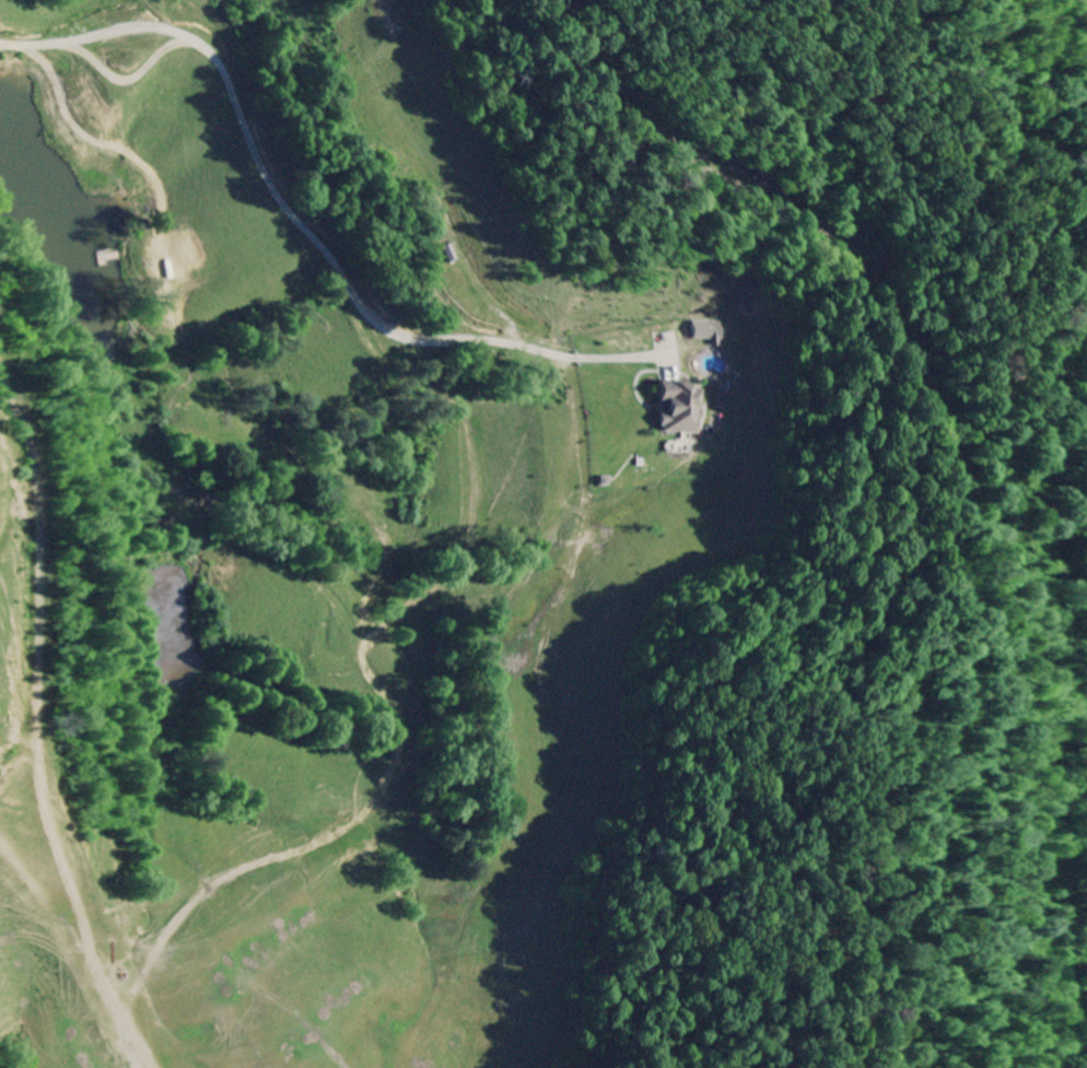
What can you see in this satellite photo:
building: (703, 333)
building: (713, 403)
building: (668, 409)

